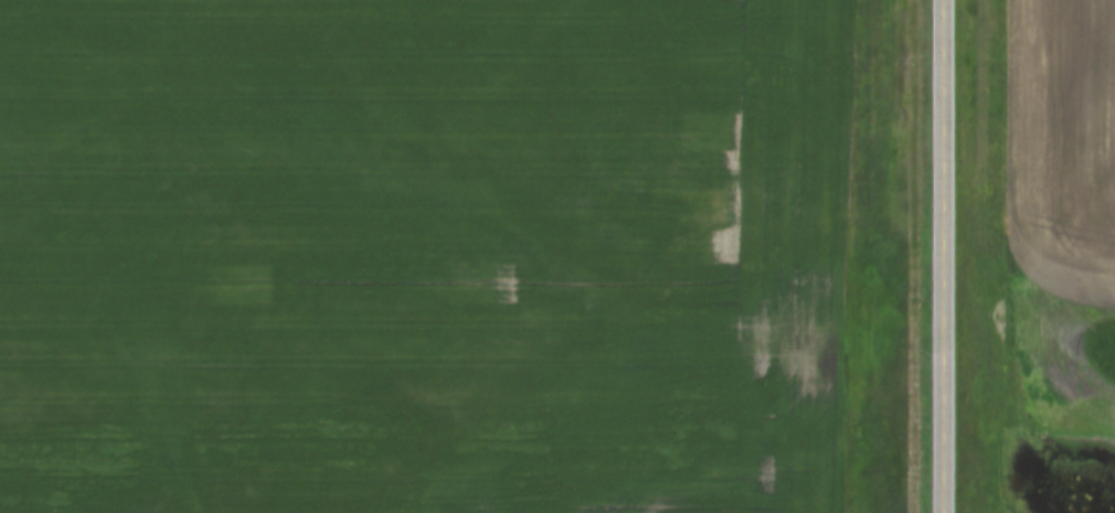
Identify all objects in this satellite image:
road: (939, 256)

